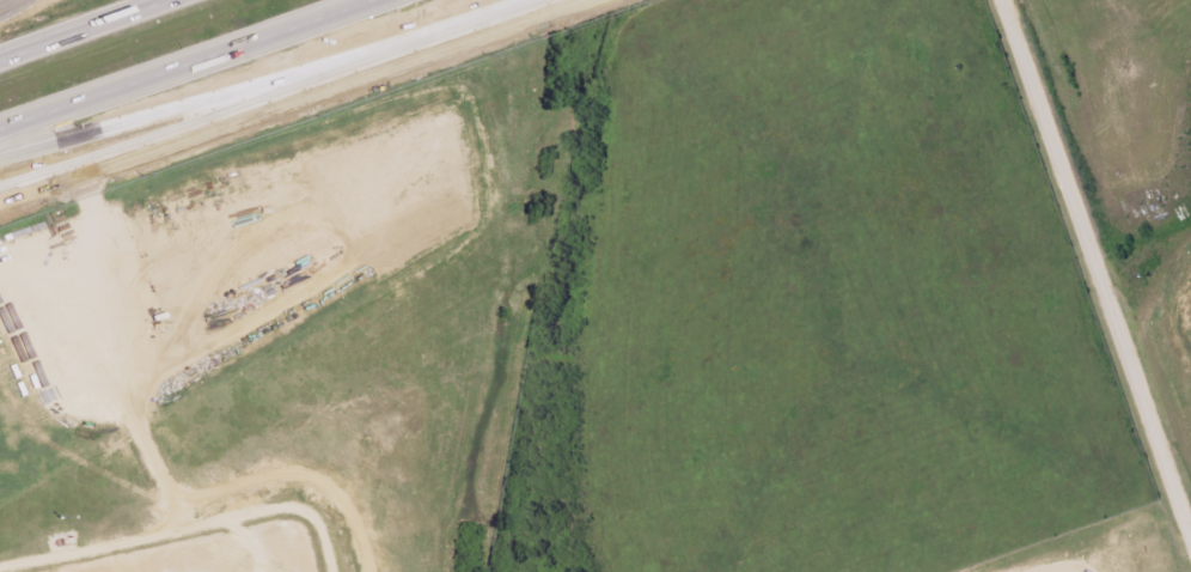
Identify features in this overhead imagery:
road: (10, 5)
road: (502, 20)
road: (84, 30)
road: (182, 63)
road: (222, 117)
road: (1098, 264)

